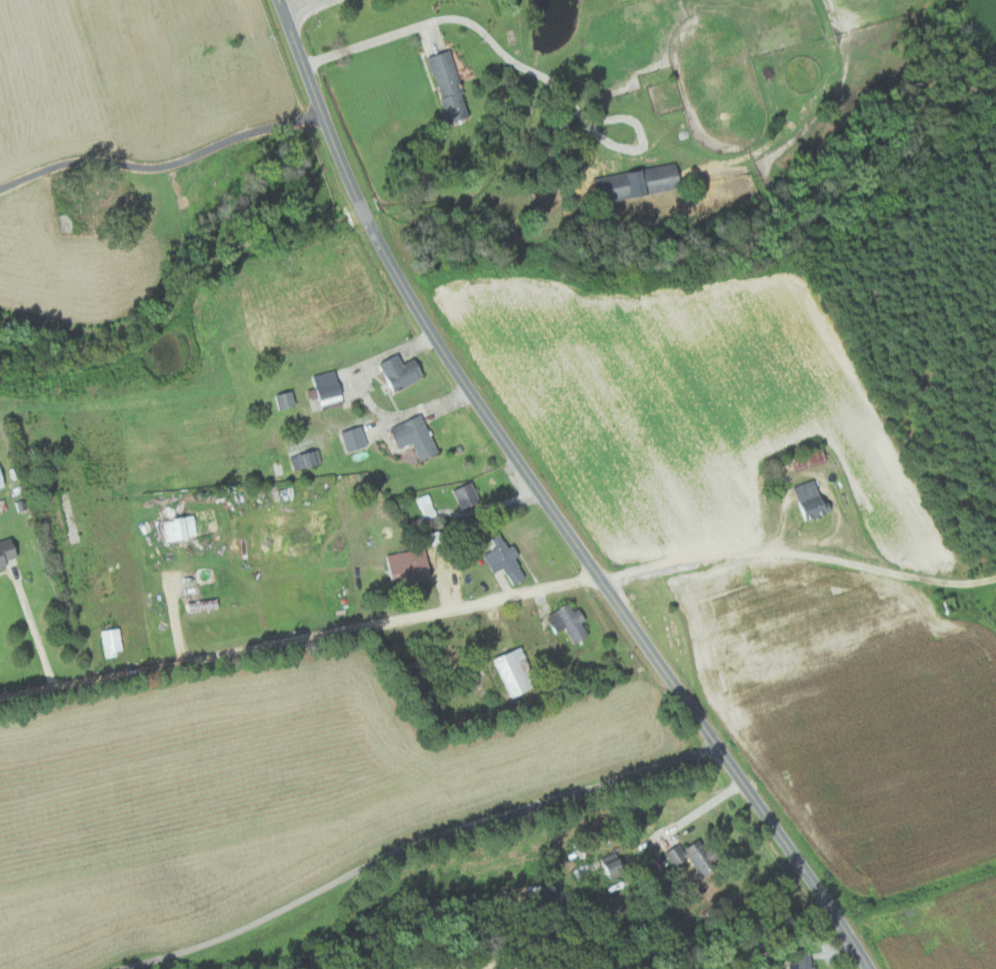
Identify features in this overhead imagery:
road: (307, 9)
road: (396, 29)
building: (452, 87)
road: (160, 158)
building: (641, 182)
building: (404, 371)
building: (333, 390)
building: (418, 436)
building: (356, 438)
building: (806, 459)
road: (522, 468)
building: (2, 478)
building: (469, 495)
building: (814, 498)
building: (182, 528)
road: (797, 544)
building: (8, 553)
building: (507, 559)
building: (411, 565)
building: (572, 621)
road: (39, 638)
building: (114, 641)
road: (299, 643)
building: (519, 672)
road: (420, 845)
building: (697, 857)
building: (616, 865)
road: (846, 937)
building: (808, 964)

